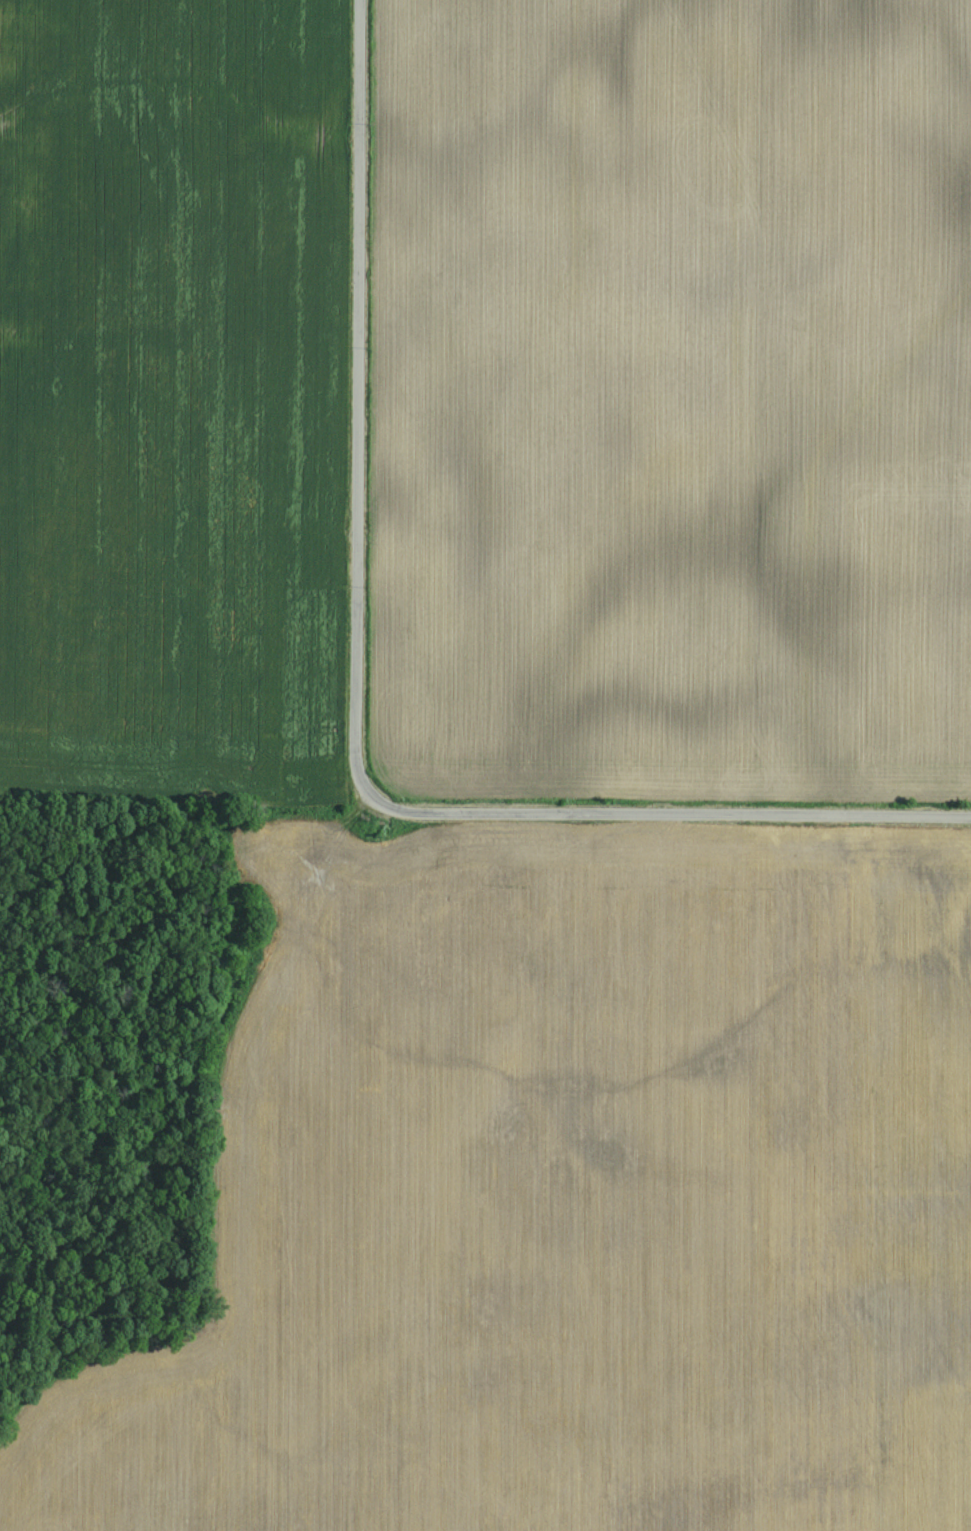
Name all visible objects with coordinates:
road: (354, 339)
road: (607, 815)

